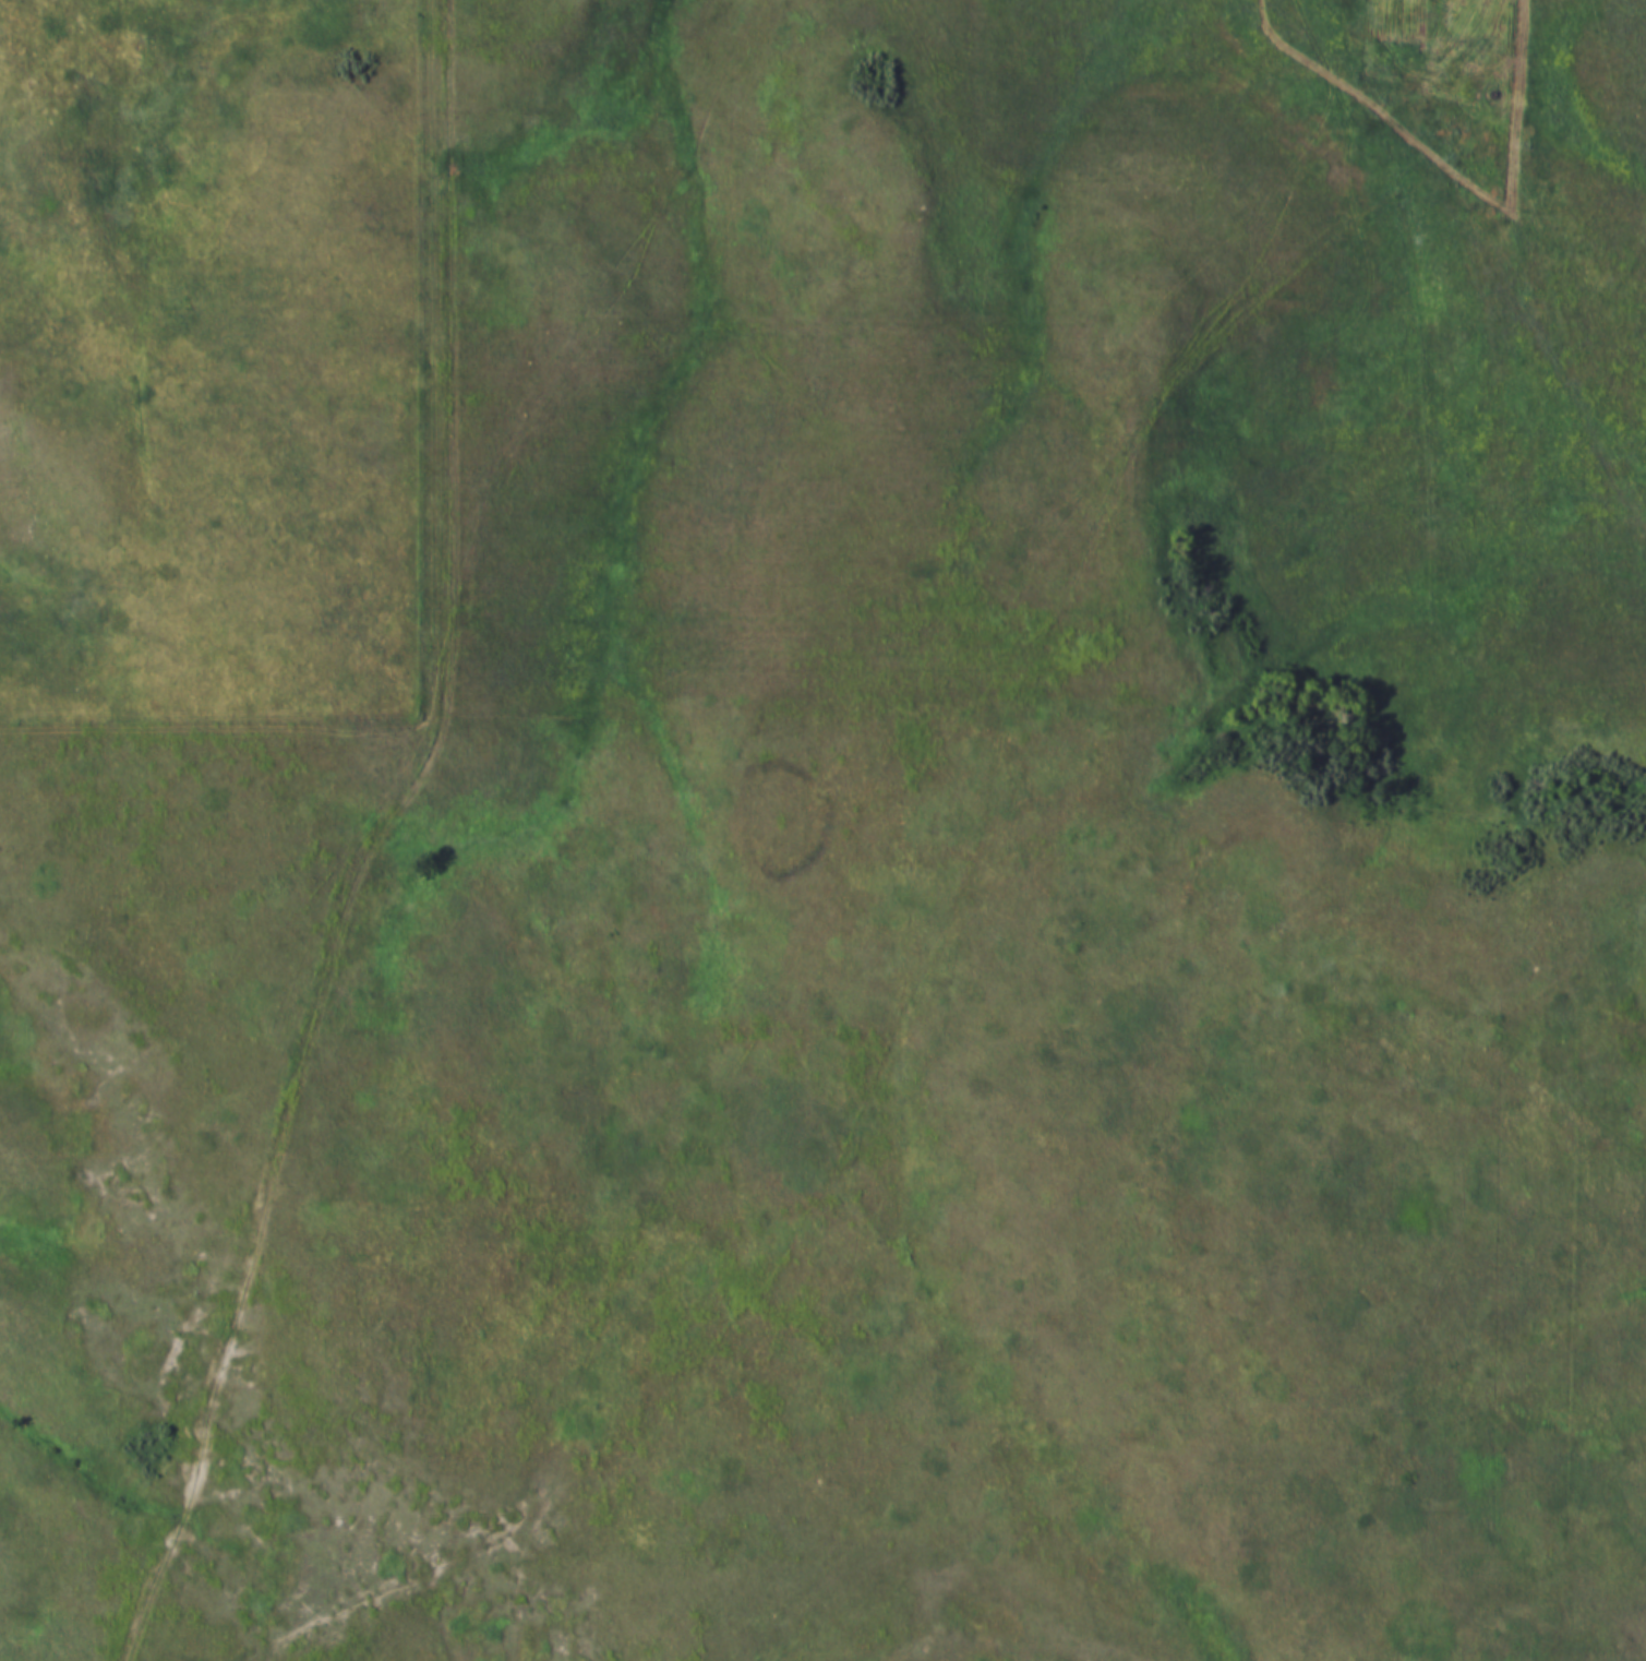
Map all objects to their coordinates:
road: (1398, 225)

